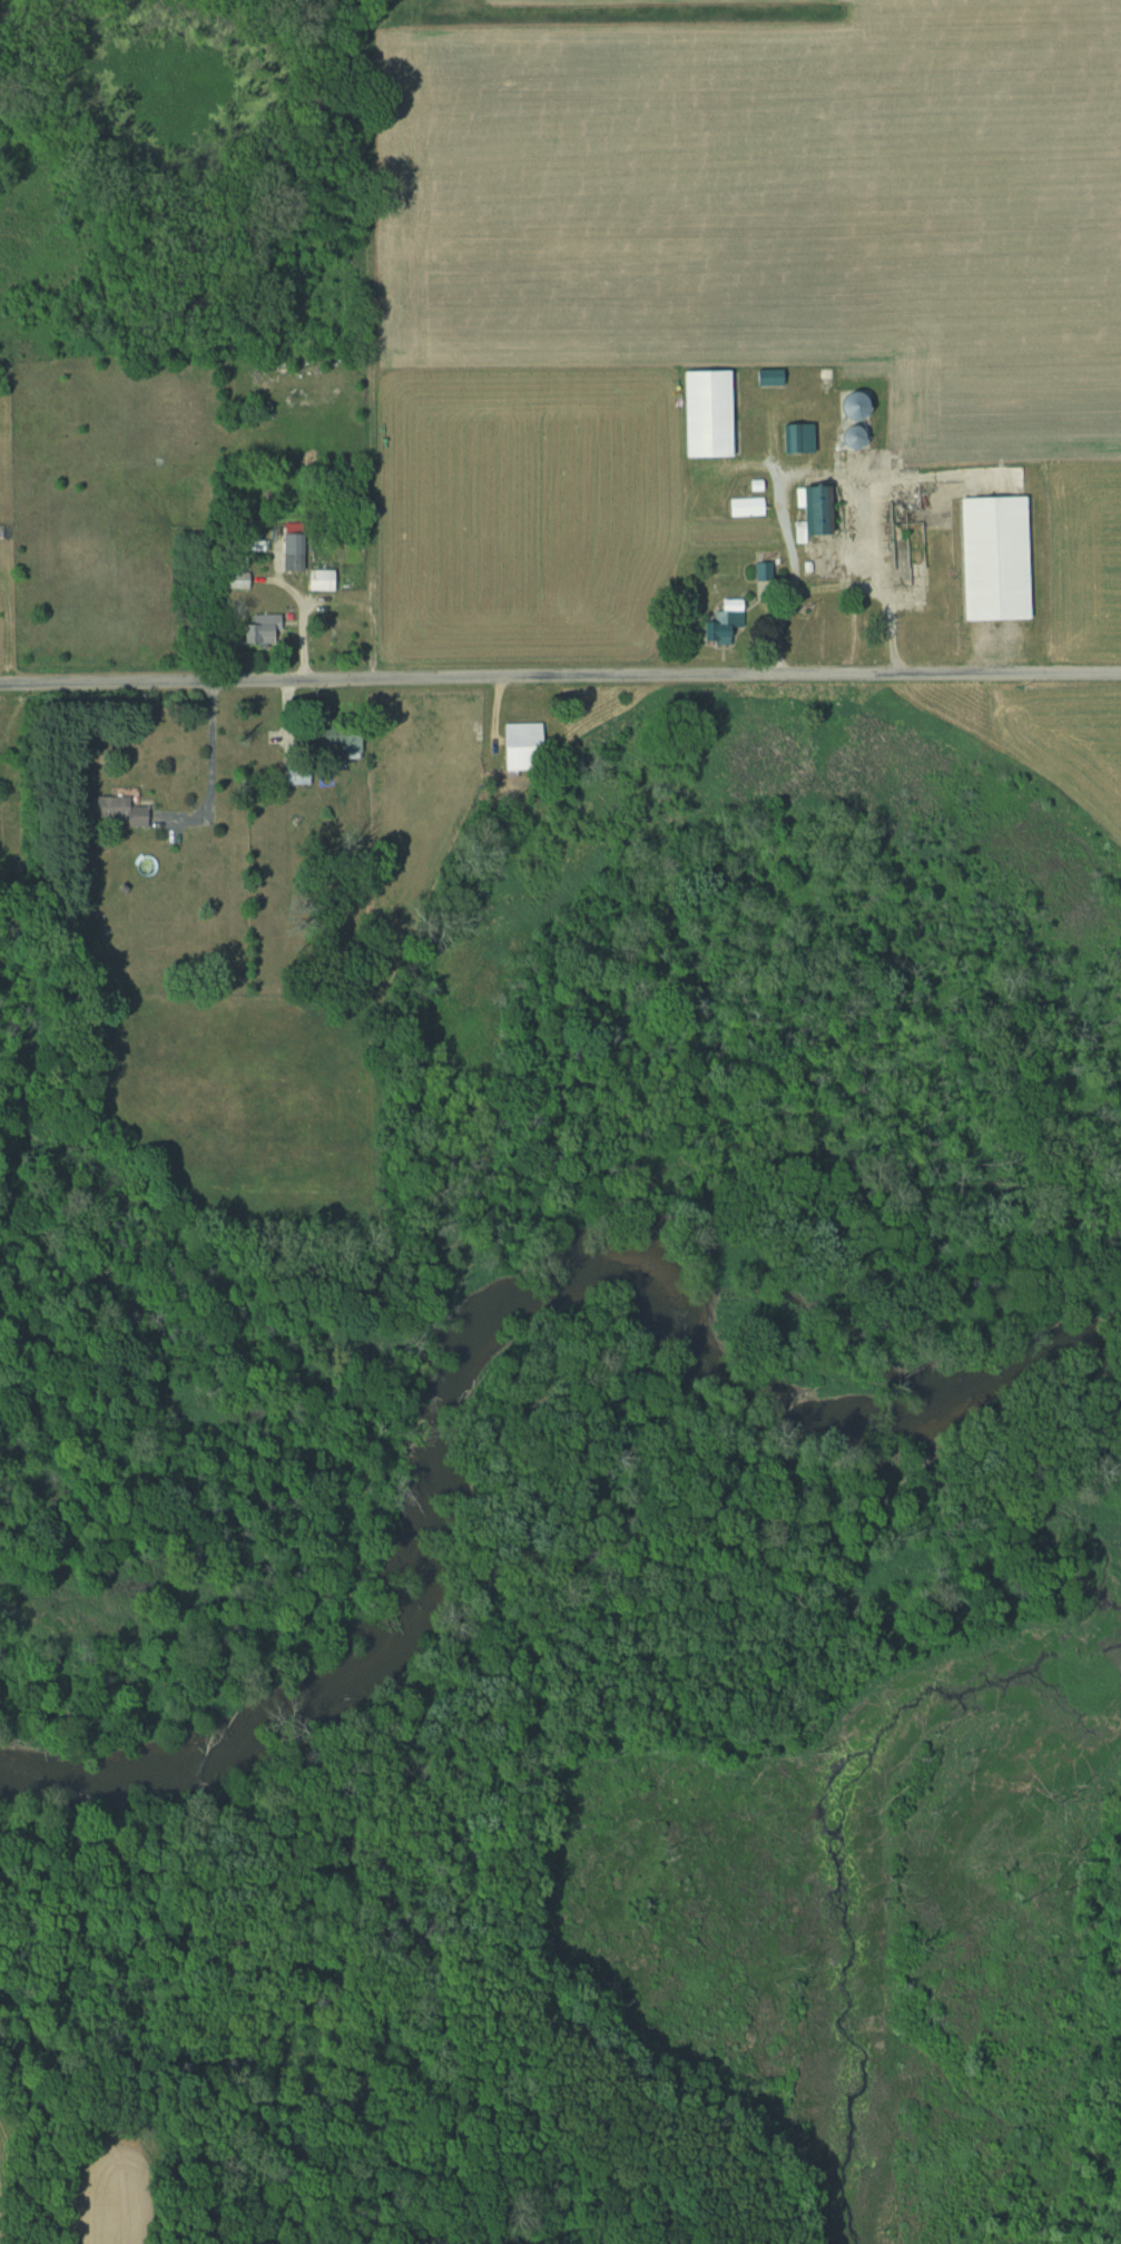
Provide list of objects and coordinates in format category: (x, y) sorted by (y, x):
building: (845, 405)
building: (708, 412)
building: (847, 435)
building: (796, 438)
building: (744, 507)
building: (810, 509)
building: (991, 558)
building: (289, 562)
building: (760, 571)
building: (235, 579)
building: (318, 579)
building: (720, 623)
building: (257, 630)
road: (560, 675)
building: (336, 737)
building: (518, 743)
road: (210, 766)
building: (122, 810)
river: (493, 1354)

